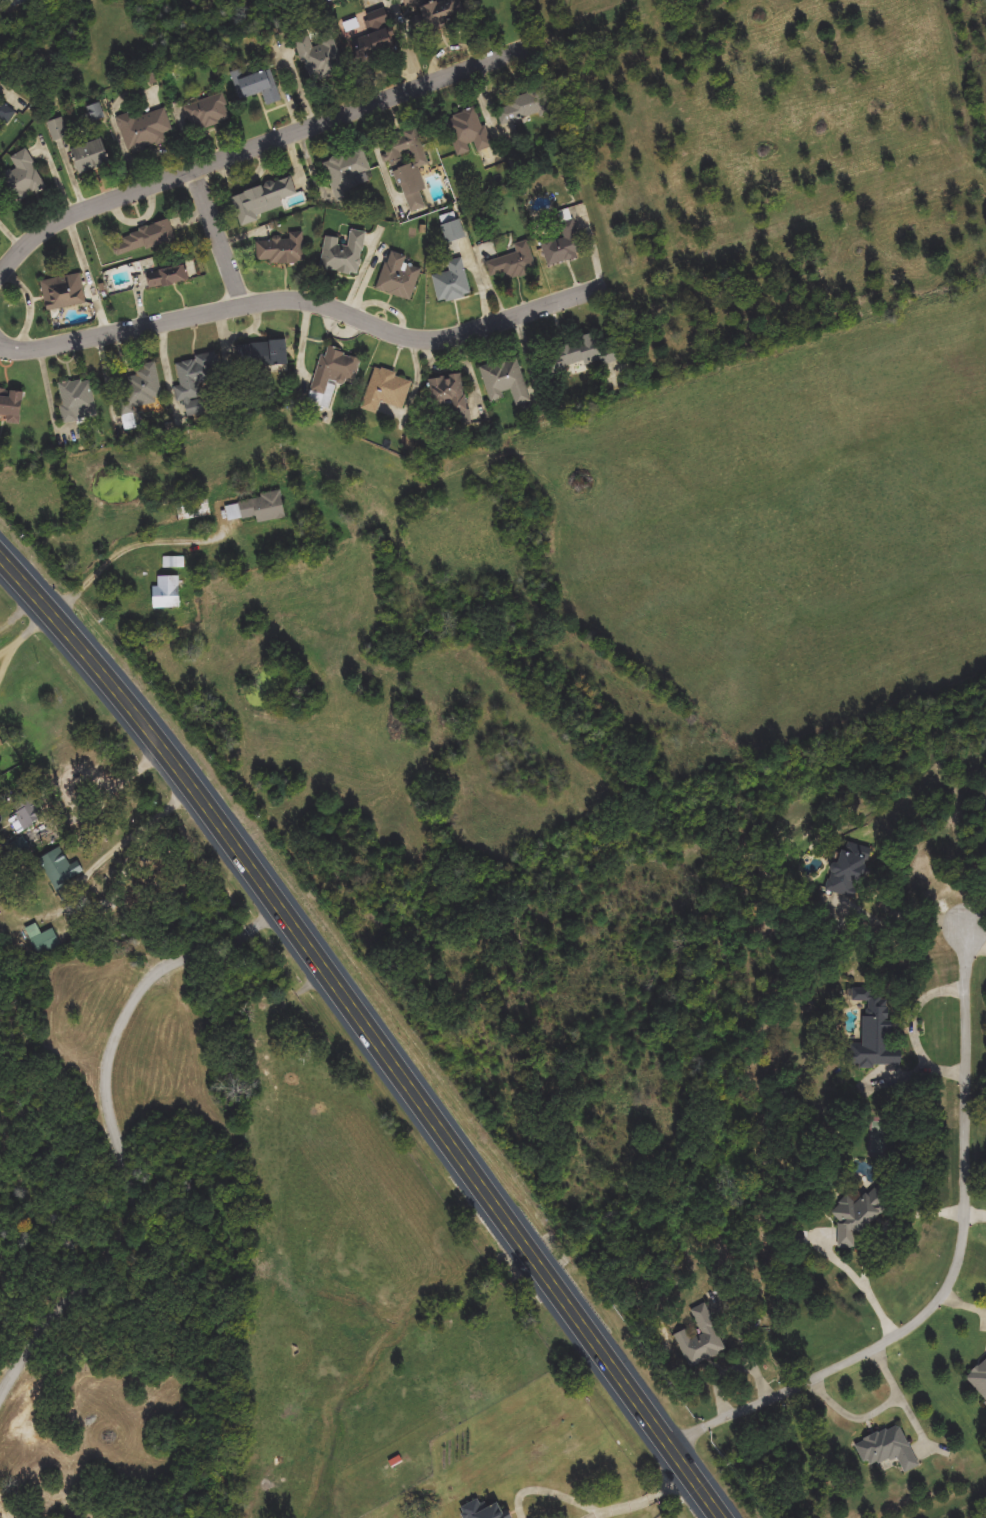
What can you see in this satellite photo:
road: (14, 8)
building: (439, 11)
road: (563, 34)
building: (375, 38)
building: (320, 58)
building: (260, 87)
building: (522, 106)
building: (6, 113)
building: (208, 114)
building: (58, 129)
building: (145, 131)
building: (468, 132)
road: (255, 144)
building: (90, 157)
building: (409, 166)
building: (348, 174)
building: (23, 176)
building: (263, 199)
building: (453, 228)
road: (220, 235)
building: (144, 240)
building: (564, 245)
building: (281, 250)
building: (344, 254)
building: (515, 263)
building: (169, 276)
building: (399, 277)
building: (453, 282)
building: (64, 292)
road: (304, 293)
building: (263, 355)
building: (578, 355)
building: (197, 375)
building: (333, 375)
building: (506, 381)
building: (141, 390)
building: (387, 390)
building: (451, 397)
building: (78, 400)
building: (10, 406)
building: (195, 508)
building: (257, 509)
road: (116, 559)
building: (174, 563)
building: (167, 592)
road: (30, 626)
road: (6, 648)
road: (6, 658)
building: (1, 745)
building: (26, 818)
road: (125, 844)
building: (61, 867)
building: (849, 870)
road: (915, 915)
road: (977, 937)
building: (46, 942)
road: (915, 1026)
road: (370, 1029)
building: (876, 1034)
road: (115, 1131)
road: (976, 1215)
building: (857, 1216)
road: (875, 1243)
road: (957, 1270)
building: (702, 1339)
building: (979, 1379)
building: (887, 1449)
road: (551, 1493)
road: (649, 1500)
building: (484, 1511)
road: (597, 1516)

